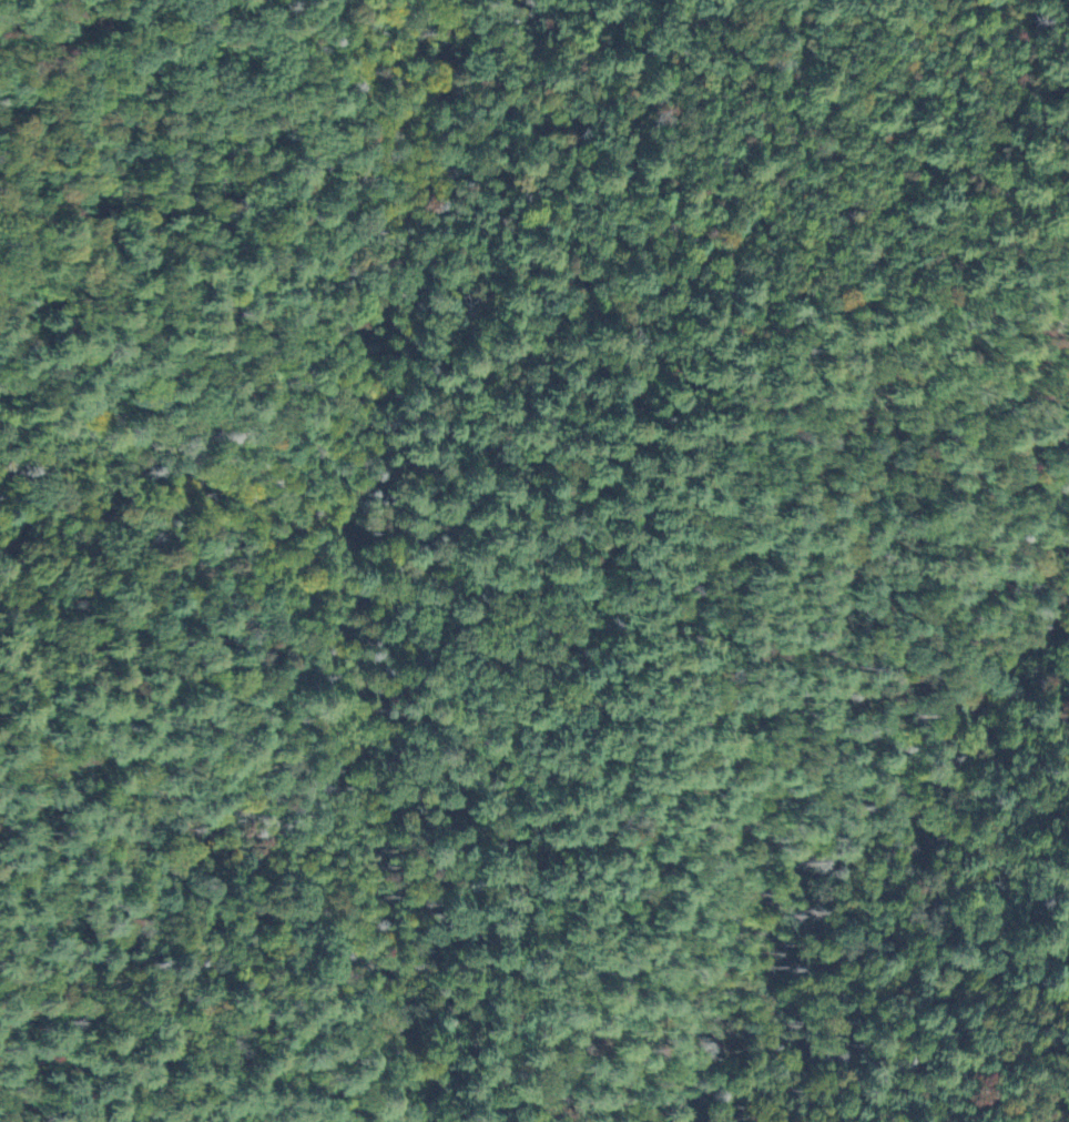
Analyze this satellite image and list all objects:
road: (344, 840)
road: (712, 1070)

